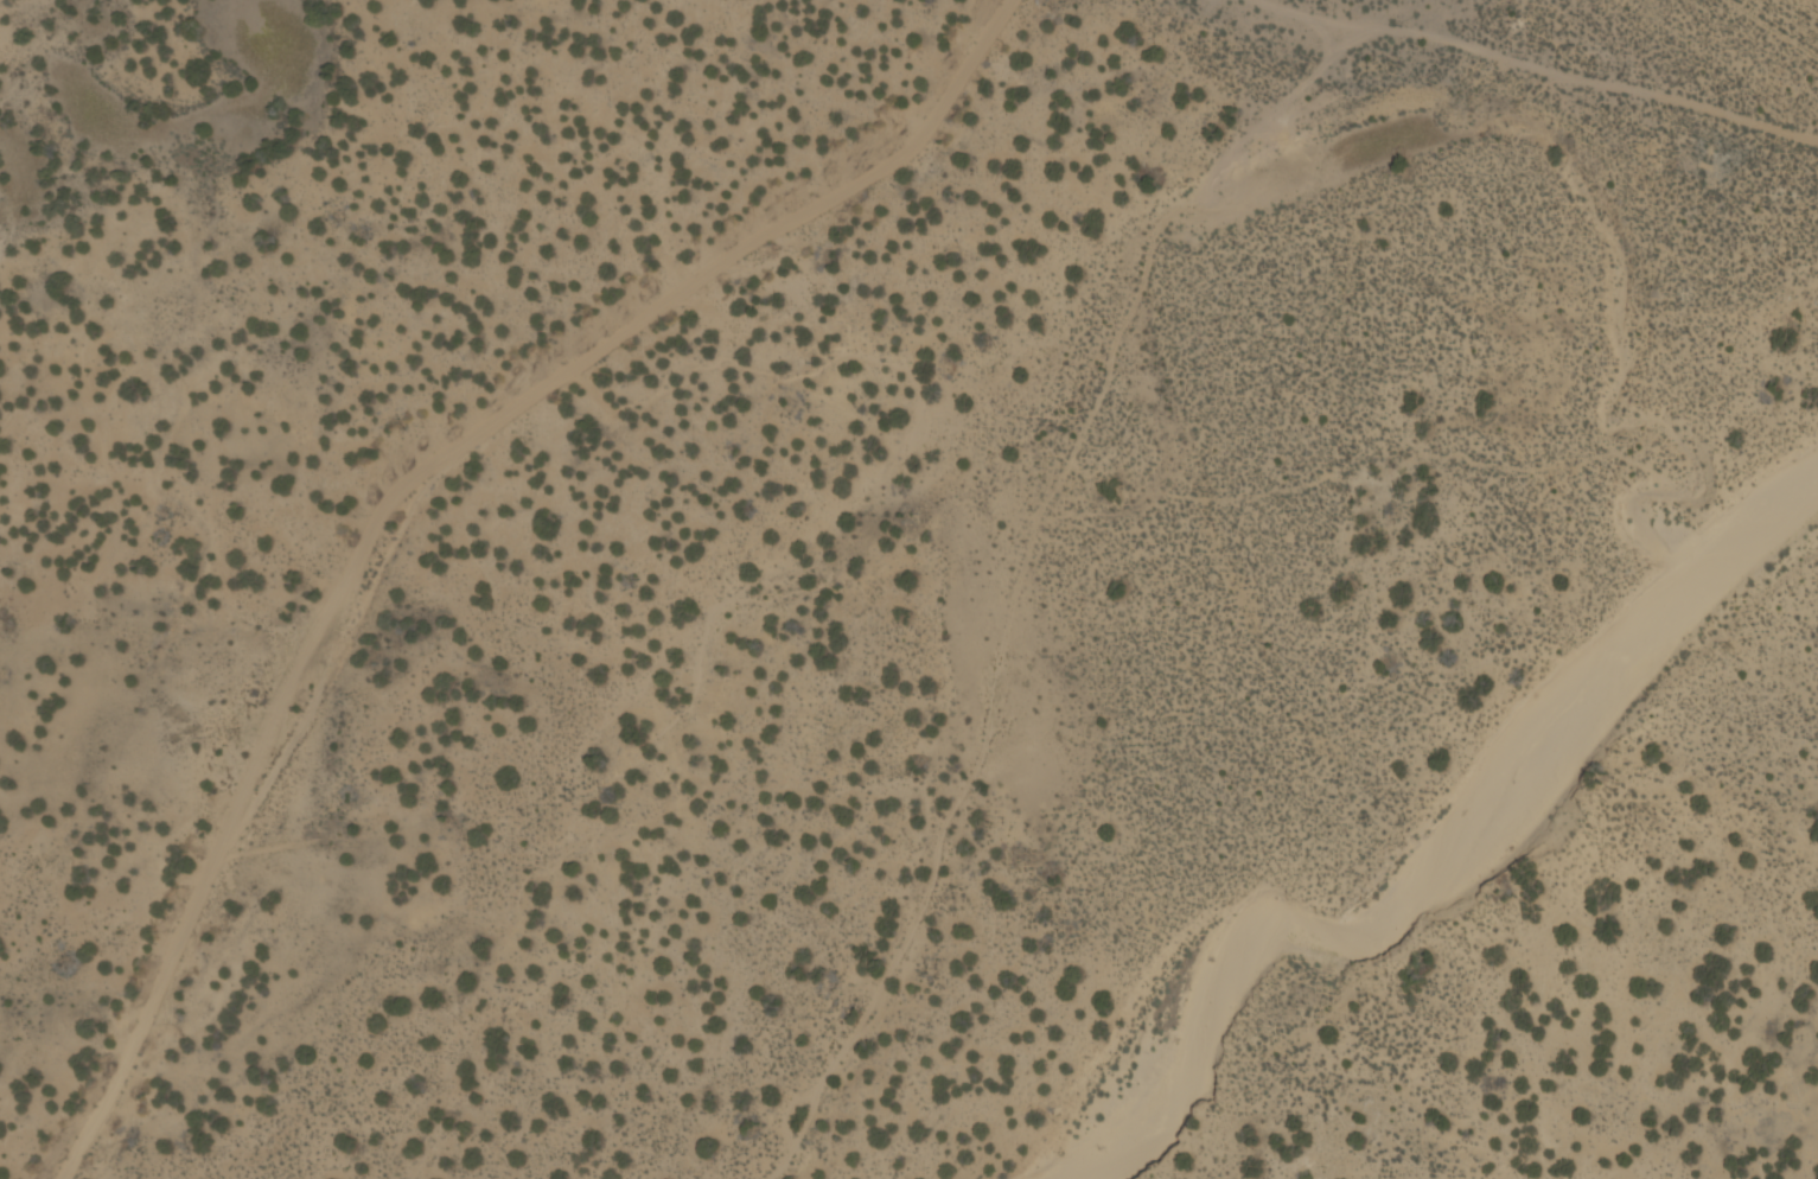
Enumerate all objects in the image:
road: (470, 499)

